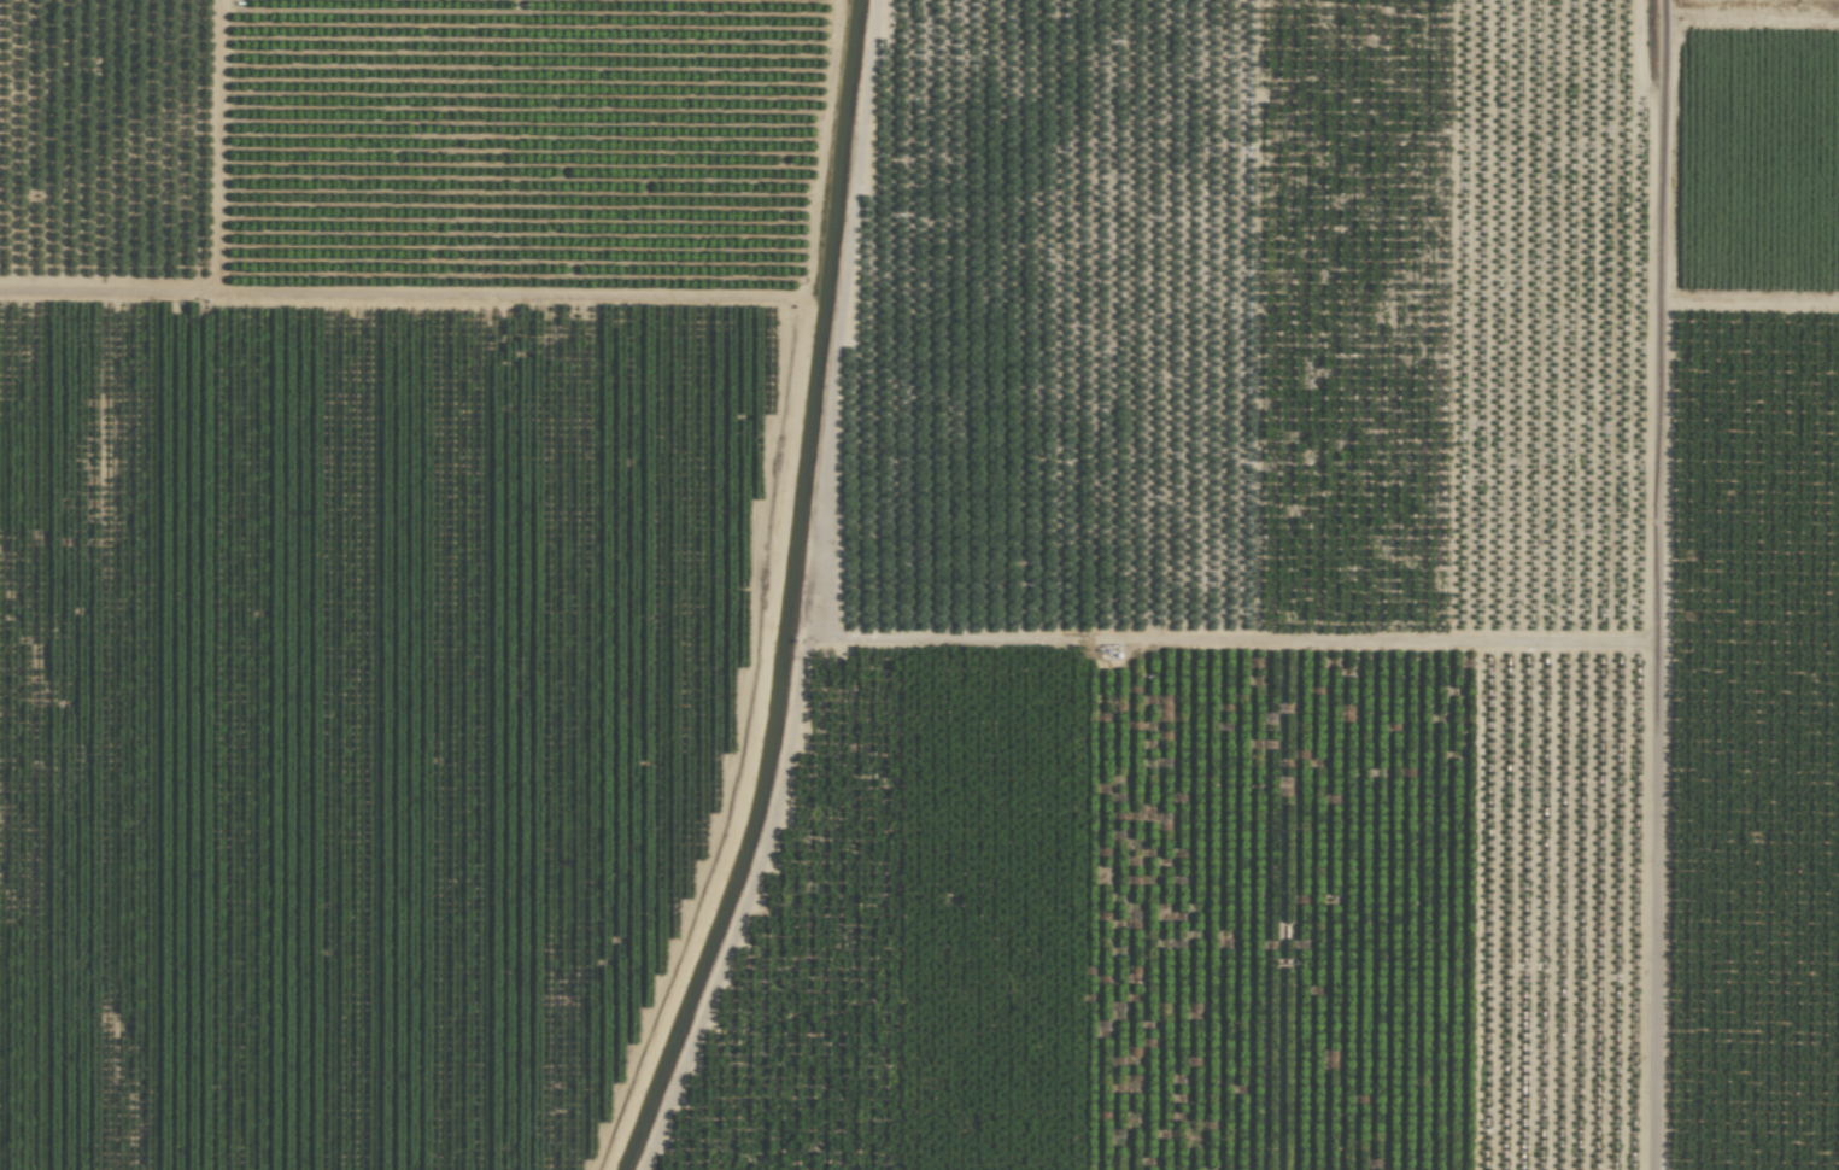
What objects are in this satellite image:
road: (1753, 302)
road: (1669, 585)

